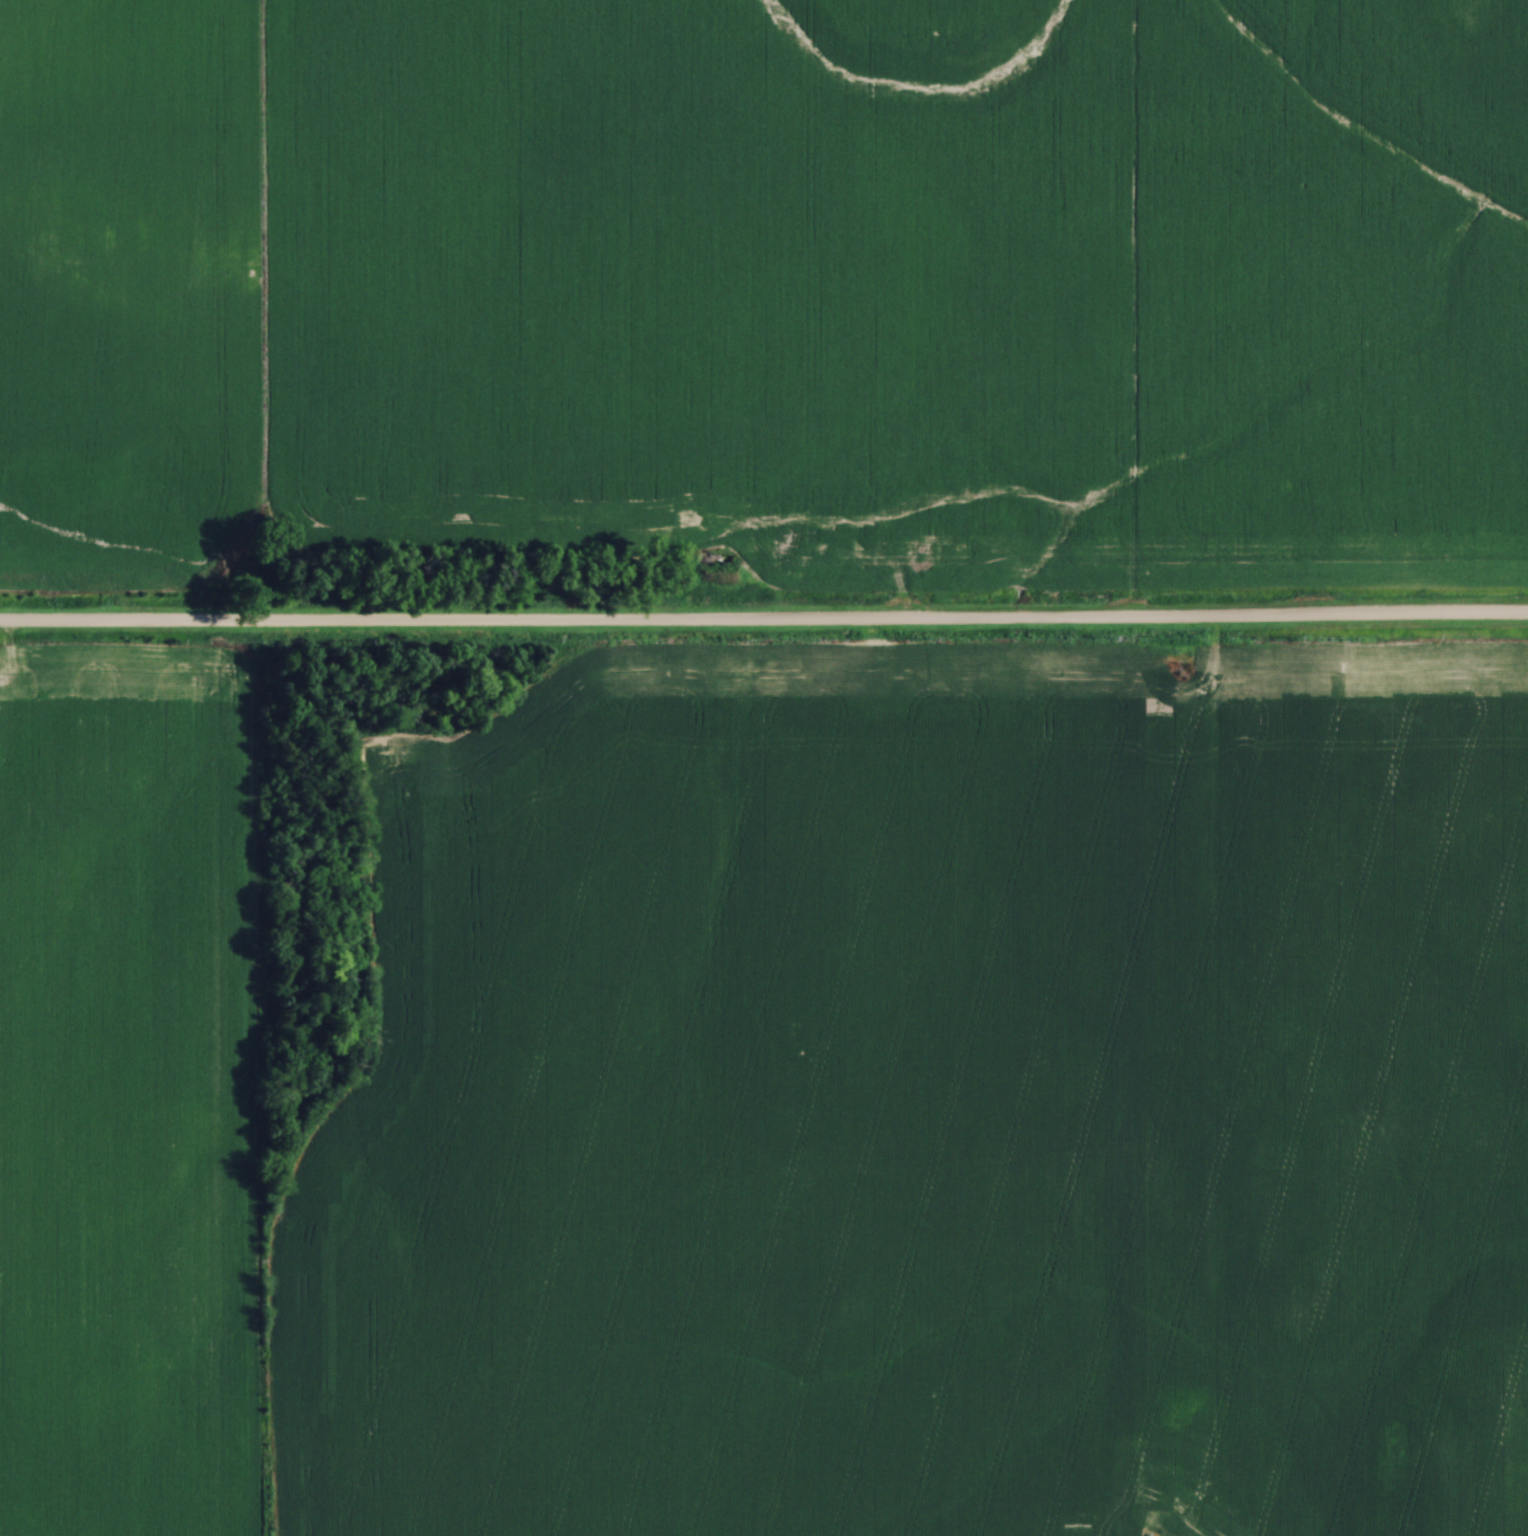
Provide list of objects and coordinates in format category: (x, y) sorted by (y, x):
road: (763, 617)

